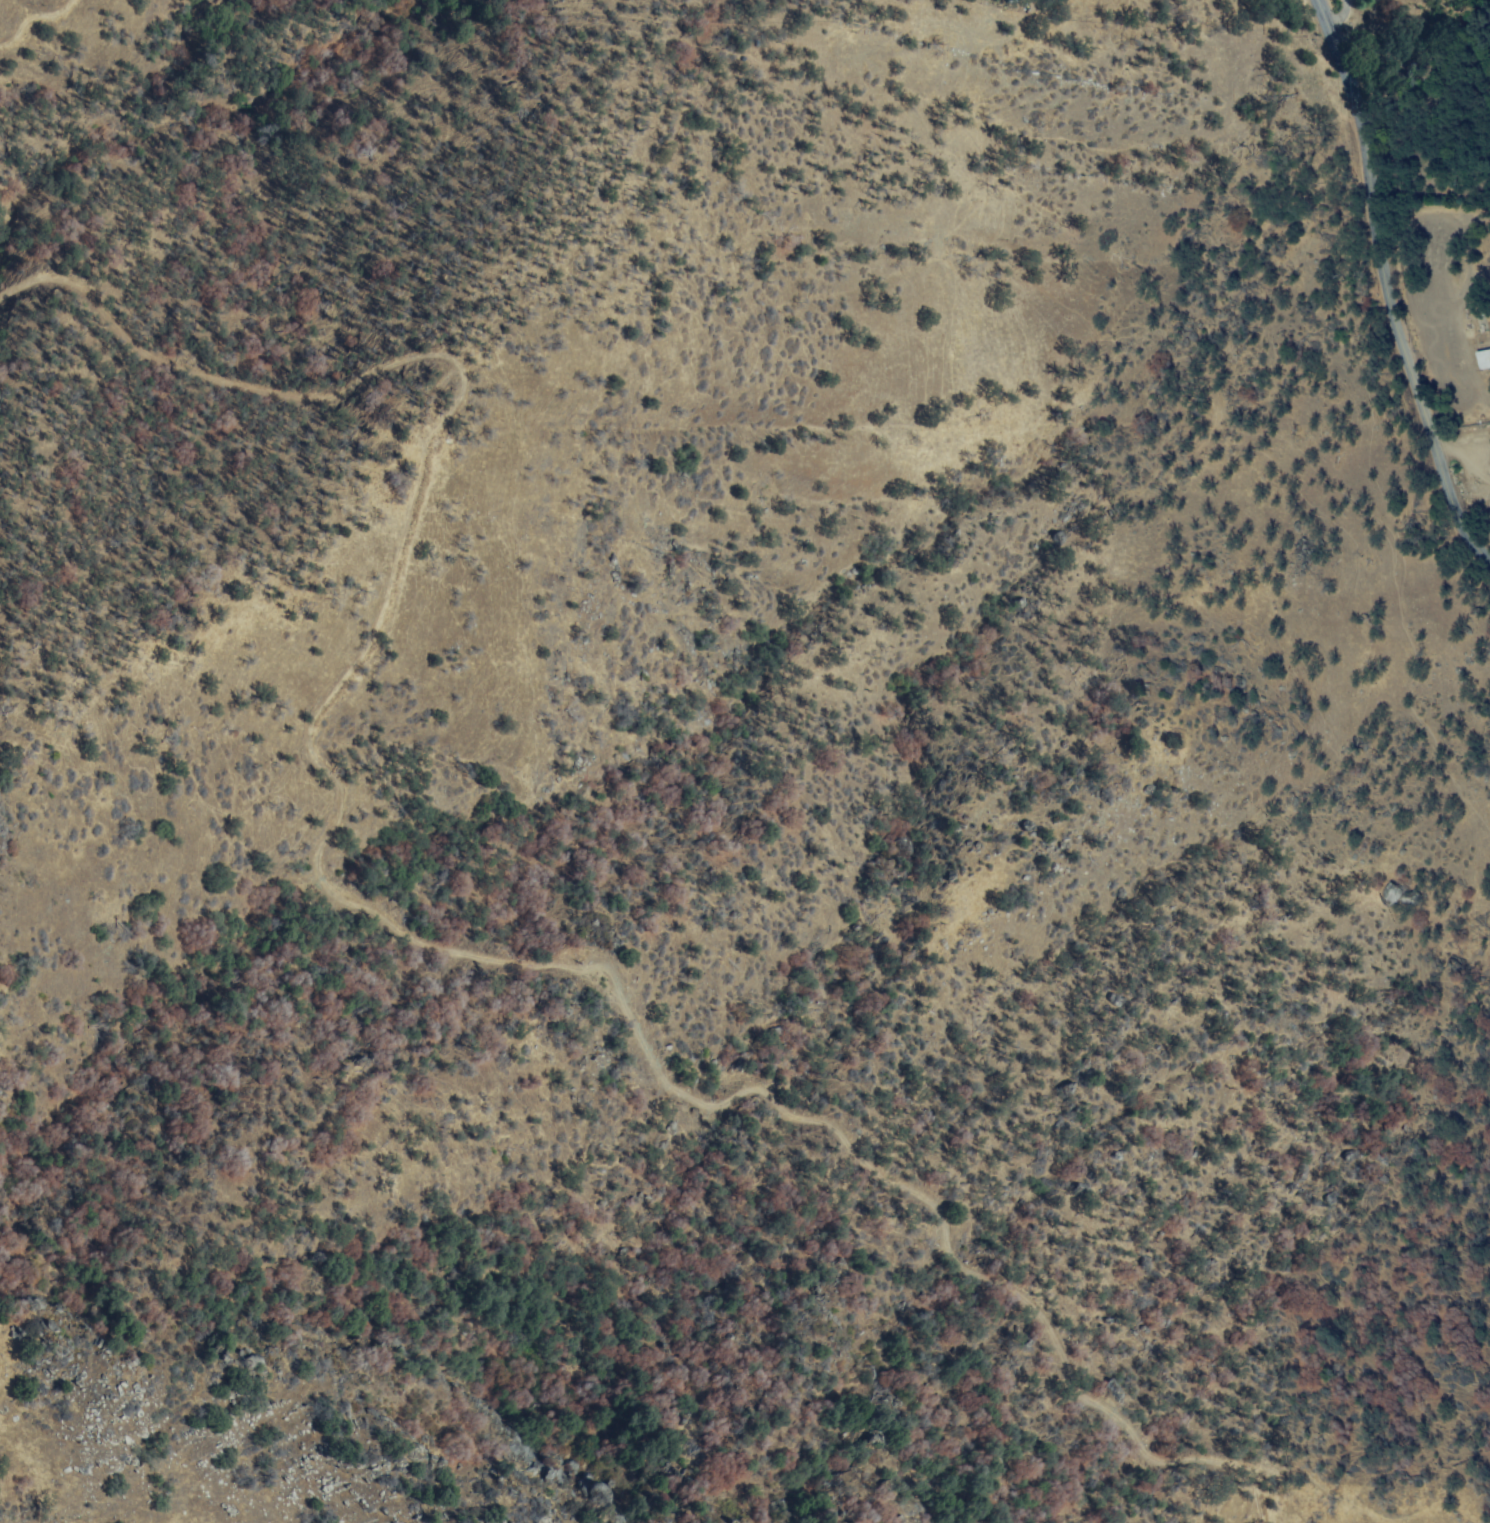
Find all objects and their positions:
road: (1385, 290)

